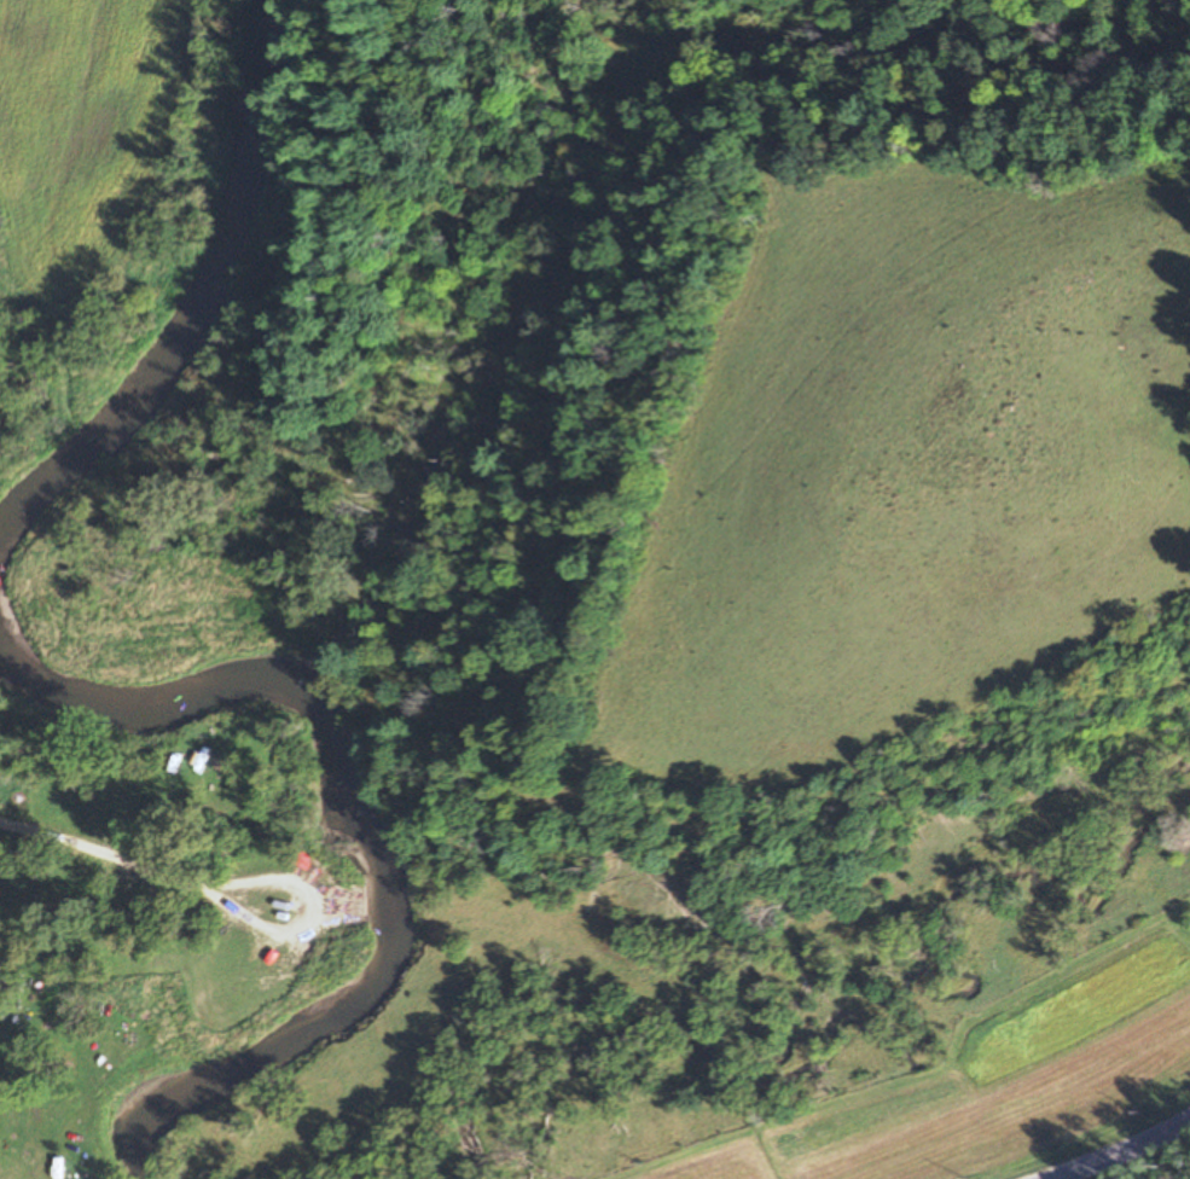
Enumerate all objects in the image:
river: (199, 301)
river: (367, 832)
road: (109, 856)
road: (317, 913)
road: (1126, 1152)

